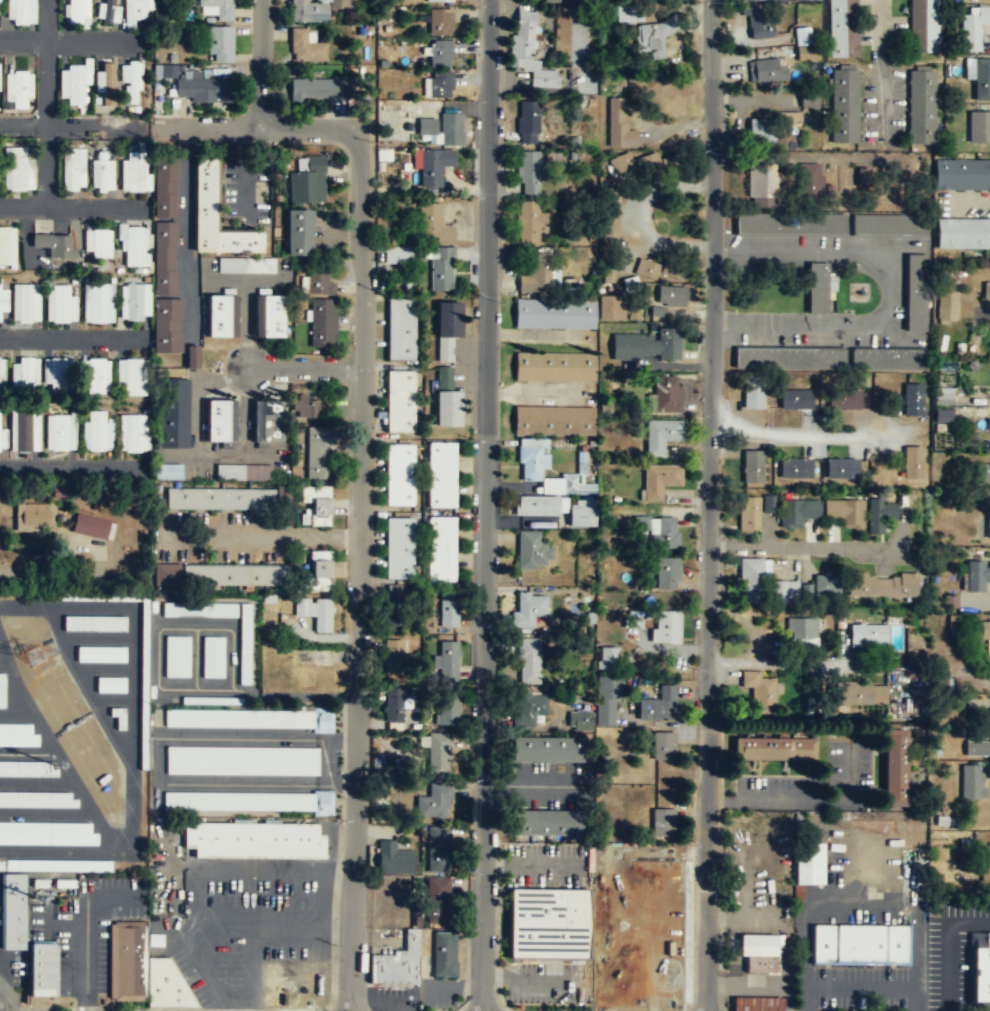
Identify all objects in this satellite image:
building: (441, 0)
building: (550, 0)
building: (753, 0)
building: (806, 0)
building: (137, 8)
building: (218, 8)
building: (315, 9)
building: (74, 11)
building: (106, 11)
building: (21, 12)
building: (630, 14)
building: (761, 24)
building: (439, 26)
building: (923, 27)
building: (973, 27)
building: (842, 29)
building: (523, 35)
road: (885, 35)
building: (652, 37)
building: (801, 37)
road: (69, 42)
building: (219, 43)
building: (305, 45)
building: (440, 55)
road: (259, 63)
road: (46, 64)
building: (166, 69)
building: (767, 71)
building: (544, 79)
building: (131, 81)
building: (982, 81)
building: (588, 82)
building: (75, 84)
building: (106, 84)
building: (438, 86)
building: (321, 87)
building: (202, 88)
building: (21, 89)
building: (810, 99)
building: (668, 101)
building: (844, 107)
building: (921, 107)
building: (528, 117)
building: (979, 126)
road: (256, 127)
building: (618, 127)
road: (71, 128)
building: (427, 128)
building: (769, 128)
building: (451, 130)
building: (652, 159)
building: (647, 164)
building: (622, 165)
road: (45, 167)
building: (434, 167)
building: (18, 168)
building: (71, 169)
building: (100, 171)
building: (133, 171)
building: (529, 174)
building: (962, 174)
building: (864, 176)
building: (815, 178)
building: (307, 181)
building: (762, 185)
building: (165, 189)
building: (204, 194)
road: (72, 207)
building: (530, 223)
building: (788, 225)
building: (889, 225)
building: (431, 226)
building: (609, 226)
building: (298, 232)
building: (962, 232)
building: (97, 242)
building: (53, 243)
building: (4, 244)
building: (131, 245)
building: (165, 256)
building: (397, 256)
building: (244, 265)
building: (441, 270)
building: (656, 270)
building: (536, 277)
building: (319, 283)
road: (879, 286)
building: (820, 289)
building: (916, 293)
building: (987, 293)
building: (3, 299)
building: (133, 300)
building: (669, 300)
building: (23, 302)
building: (58, 302)
building: (95, 302)
building: (946, 306)
building: (611, 310)
building: (554, 315)
building: (221, 316)
building: (268, 316)
building: (322, 323)
building: (167, 325)
building: (401, 329)
building: (447, 329)
road: (70, 338)
building: (647, 346)
building: (192, 356)
building: (790, 359)
building: (888, 359)
building: (554, 367)
road: (307, 368)
building: (1, 371)
building: (23, 371)
building: (53, 372)
building: (93, 373)
building: (131, 374)
building: (667, 395)
building: (943, 396)
building: (752, 397)
building: (446, 399)
building: (913, 400)
building: (400, 401)
building: (795, 401)
building: (844, 401)
building: (307, 409)
building: (175, 415)
building: (943, 415)
building: (554, 420)
building: (220, 422)
building: (267, 422)
building: (988, 424)
building: (23, 429)
building: (59, 431)
building: (95, 431)
building: (133, 431)
road: (784, 434)
building: (661, 436)
building: (3, 437)
building: (318, 453)
building: (913, 463)
road: (69, 466)
building: (752, 467)
building: (795, 469)
building: (842, 469)
building: (538, 470)
building: (167, 471)
building: (244, 472)
building: (987, 472)
building: (399, 475)
building: (442, 475)
building: (659, 479)
building: (584, 489)
building: (219, 499)
building: (315, 505)
road: (484, 505)
road: (707, 505)
building: (537, 507)
building: (797, 512)
building: (845, 512)
building: (753, 513)
building: (880, 514)
building: (582, 516)
building: (32, 517)
building: (989, 527)
building: (92, 528)
building: (663, 534)
road: (794, 547)
building: (399, 549)
building: (440, 549)
building: (533, 551)
road: (359, 570)
building: (319, 572)
building: (167, 573)
building: (667, 575)
building: (235, 576)
building: (977, 576)
building: (752, 578)
building: (882, 585)
building: (826, 586)
building: (785, 592)
building: (301, 605)
building: (394, 609)
building: (527, 609)
building: (199, 610)
building: (447, 611)
building: (322, 614)
building: (94, 624)
building: (666, 628)
building: (801, 630)
building: (983, 633)
building: (868, 636)
building: (245, 645)
building: (100, 653)
power tower: (35, 654)
building: (447, 655)
building: (177, 656)
building: (213, 656)
building: (392, 658)
building: (607, 660)
road: (848, 661)
building: (529, 662)
building: (313, 671)
building: (110, 684)
building: (2, 690)
building: (758, 694)
building: (863, 695)
building: (212, 700)
building: (607, 700)
building: (395, 705)
building: (658, 706)
building: (528, 710)
building: (446, 712)
building: (119, 718)
building: (248, 719)
building: (580, 723)
building: (17, 734)
building: (663, 747)
building: (977, 749)
building: (775, 750)
building: (547, 751)
building: (437, 755)
building: (242, 760)
building: (896, 768)
building: (26, 769)
building: (972, 783)
building: (37, 798)
building: (247, 801)
building: (433, 803)
building: (548, 824)
building: (662, 824)
building: (46, 833)
building: (253, 840)
building: (437, 851)
building: (395, 862)
building: (809, 865)
building: (985, 871)
road: (200, 872)
building: (437, 902)
road: (860, 908)
building: (12, 911)
road: (271, 912)
building: (546, 925)
road: (84, 932)
building: (155, 940)
building: (860, 945)
road: (947, 945)
building: (759, 951)
building: (443, 952)
road: (251, 961)
building: (398, 961)
building: (43, 969)
building: (142, 970)
building: (982, 972)
building: (635, 973)
road: (859, 986)
building: (758, 1004)
road: (3, 1005)

